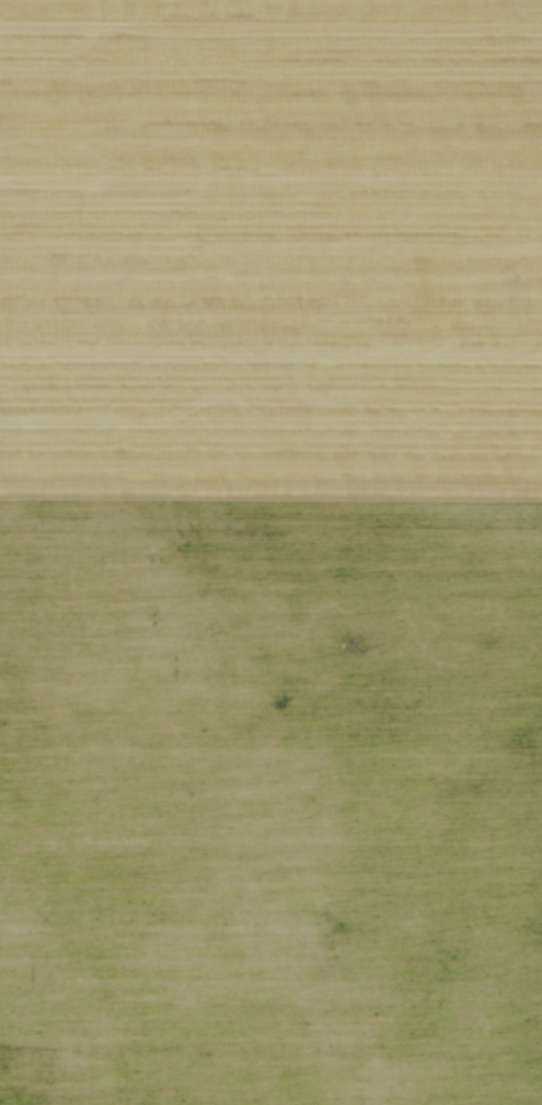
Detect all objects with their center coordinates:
crop: (270, 552)

